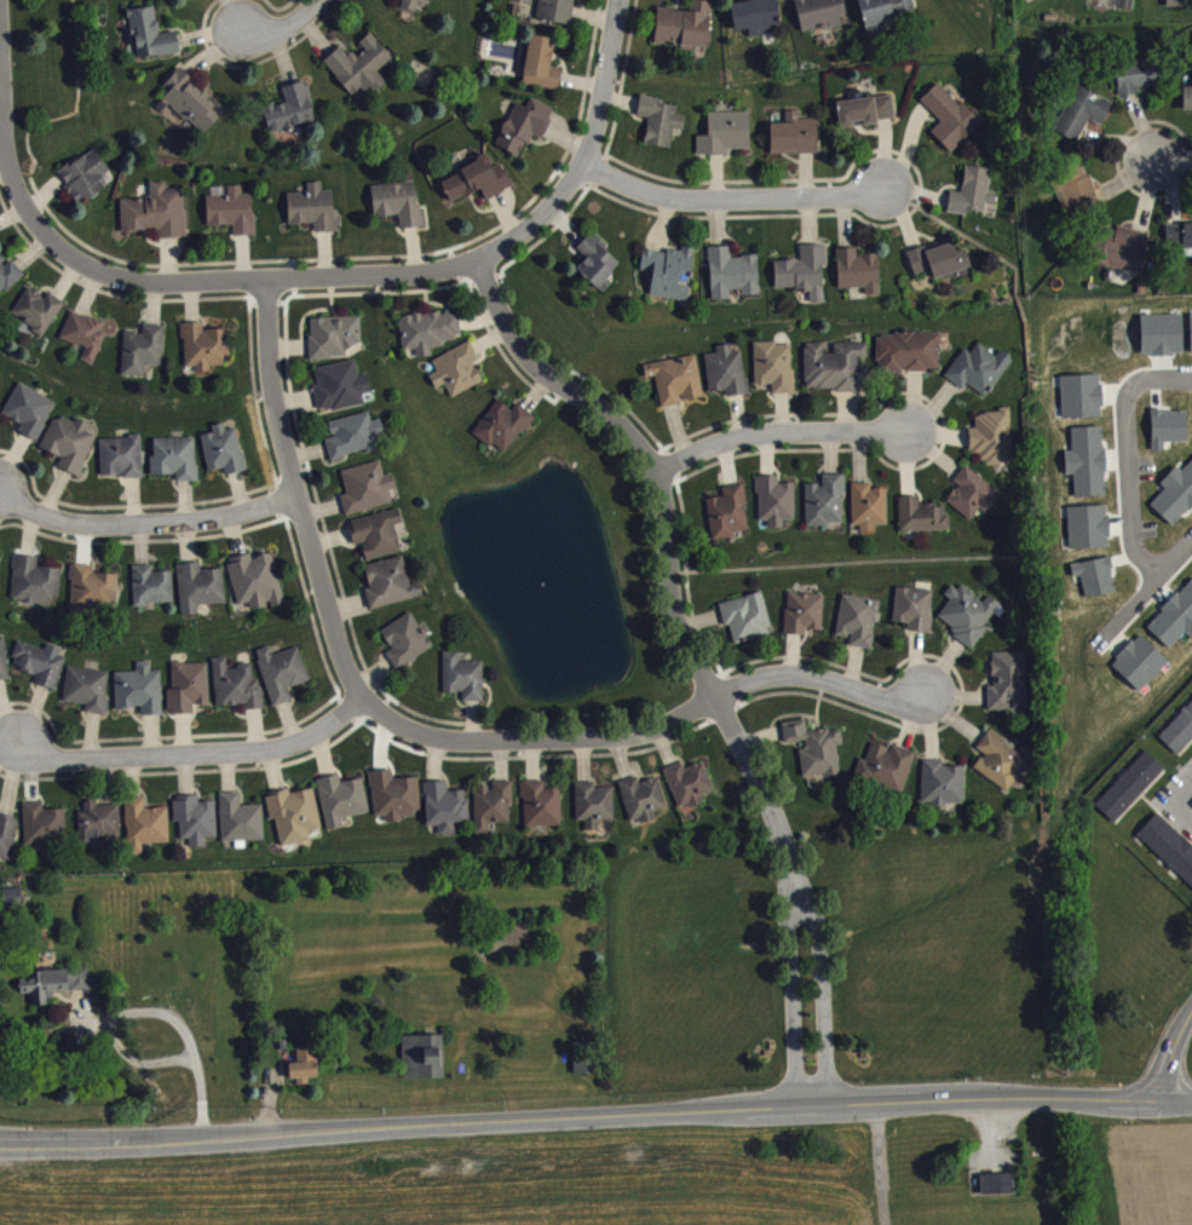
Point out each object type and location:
building: (178, 0)
building: (411, 6)
building: (1123, 6)
building: (1180, 6)
building: (557, 15)
building: (885, 16)
building: (819, 17)
building: (758, 22)
road: (284, 25)
building: (685, 33)
building: (151, 42)
building: (542, 71)
building: (362, 74)
building: (1136, 85)
building: (1188, 105)
building: (192, 109)
building: (292, 116)
building: (866, 119)
building: (1083, 120)
building: (952, 125)
building: (661, 128)
building: (525, 133)
building: (726, 142)
building: (795, 143)
road: (591, 155)
road: (1175, 165)
building: (86, 183)
building: (478, 188)
building: (1076, 199)
building: (974, 200)
road: (733, 202)
building: (399, 211)
building: (315, 215)
building: (234, 218)
building: (157, 219)
building: (1179, 247)
building: (1122, 255)
building: (940, 268)
building: (598, 270)
building: (859, 278)
building: (670, 280)
building: (804, 280)
building: (733, 281)
building: (8, 282)
road: (192, 282)
building: (39, 317)
building: (1191, 329)
building: (1162, 332)
building: (430, 339)
building: (86, 341)
building: (336, 345)
building: (206, 353)
building: (143, 357)
building: (909, 360)
building: (776, 374)
building: (837, 375)
building: (980, 376)
building: (459, 378)
building: (727, 379)
building: (676, 387)
building: (1081, 392)
building: (341, 393)
building: (30, 418)
building: (1168, 425)
road: (779, 432)
building: (505, 433)
building: (356, 443)
building: (992, 444)
building: (70, 450)
road: (1128, 454)
building: (225, 458)
building: (1087, 458)
building: (122, 464)
building: (177, 465)
building: (1175, 491)
building: (368, 495)
building: (973, 501)
building: (777, 508)
building: (827, 508)
building: (870, 514)
building: (730, 521)
building: (923, 523)
building: (1088, 524)
road: (145, 527)
building: (379, 541)
building: (1095, 573)
building: (35, 588)
building: (257, 588)
building: (391, 591)
road: (1146, 591)
building: (154, 593)
building: (201, 594)
building: (94, 596)
building: (1175, 615)
building: (915, 616)
building: (805, 620)
building: (969, 621)
building: (748, 625)
building: (858, 628)
building: (407, 648)
road: (697, 655)
building: (1140, 660)
building: (4, 668)
building: (41, 671)
road: (351, 675)
road: (823, 678)
building: (283, 680)
building: (465, 685)
building: (1009, 689)
building: (238, 694)
building: (190, 695)
building: (88, 696)
building: (140, 697)
building: (1180, 740)
road: (195, 754)
building: (816, 755)
building: (1001, 769)
building: (887, 775)
building: (690, 792)
building: (943, 792)
building: (1130, 794)
road: (1173, 801)
building: (396, 803)
building: (644, 806)
building: (342, 807)
building: (542, 812)
building: (595, 812)
building: (447, 815)
building: (493, 815)
building: (295, 823)
building: (196, 827)
building: (241, 827)
building: (100, 830)
building: (146, 832)
building: (45, 833)
building: (8, 842)
building: (1169, 852)
building: (13, 903)
building: (56, 990)
road: (142, 1010)
road: (1171, 1052)
building: (424, 1064)
building: (305, 1072)
road: (1177, 1099)
road: (581, 1115)
road: (880, 1163)
building: (994, 1180)
building: (998, 1191)

